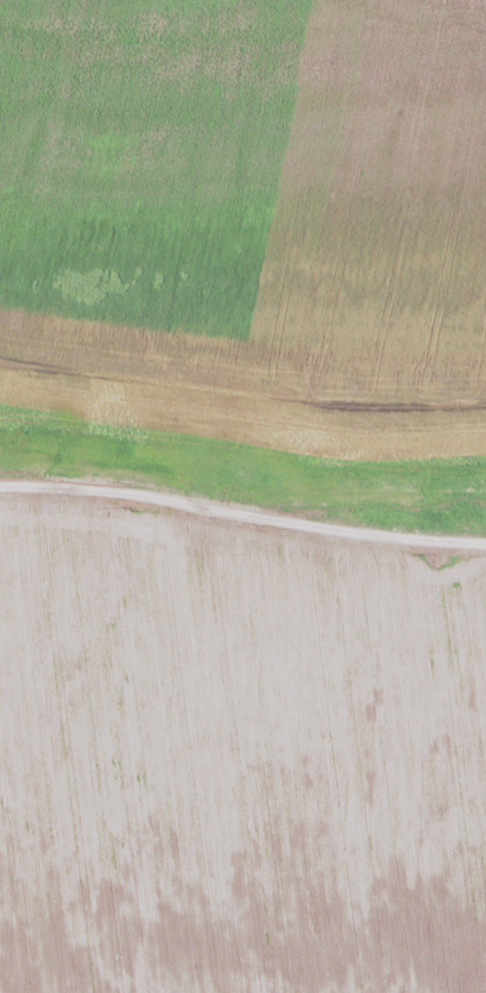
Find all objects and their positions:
road: (243, 513)

